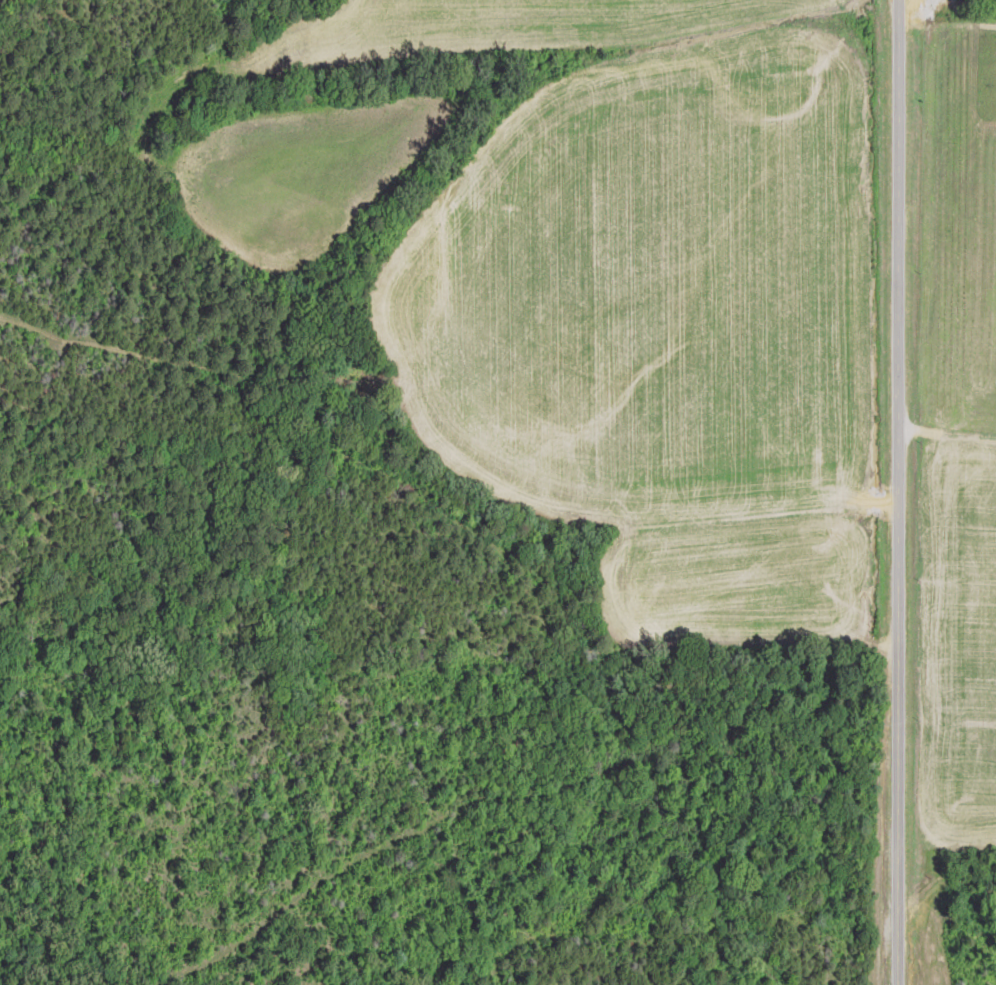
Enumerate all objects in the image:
road: (910, 492)

